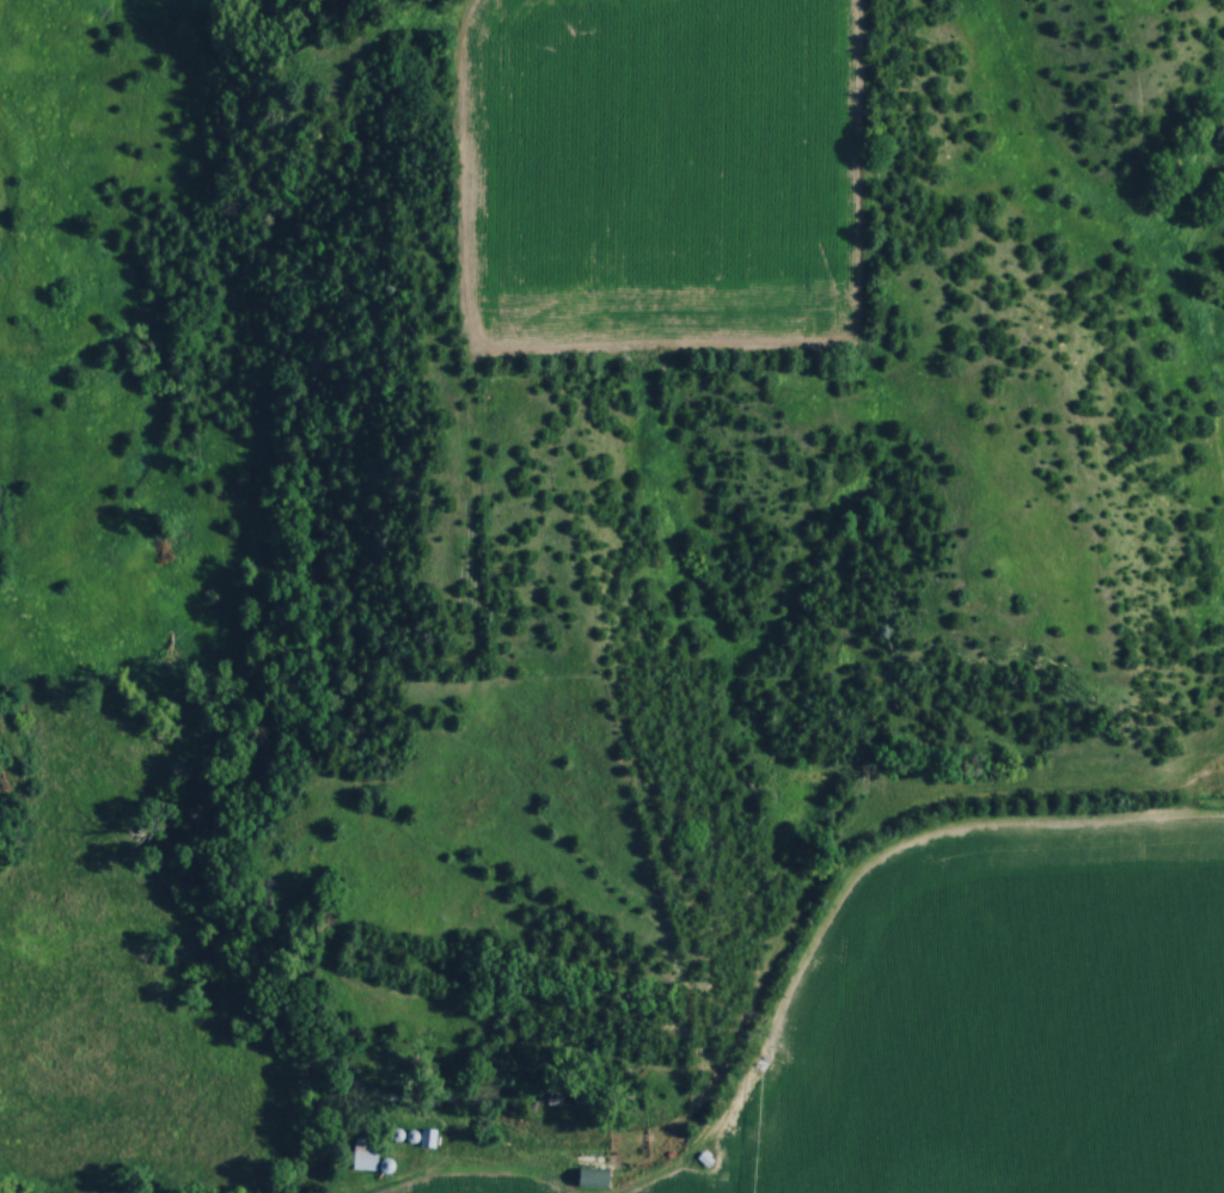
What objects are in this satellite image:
building: (428, 1137)
building: (371, 1155)
building: (594, 1175)
road: (440, 1183)

